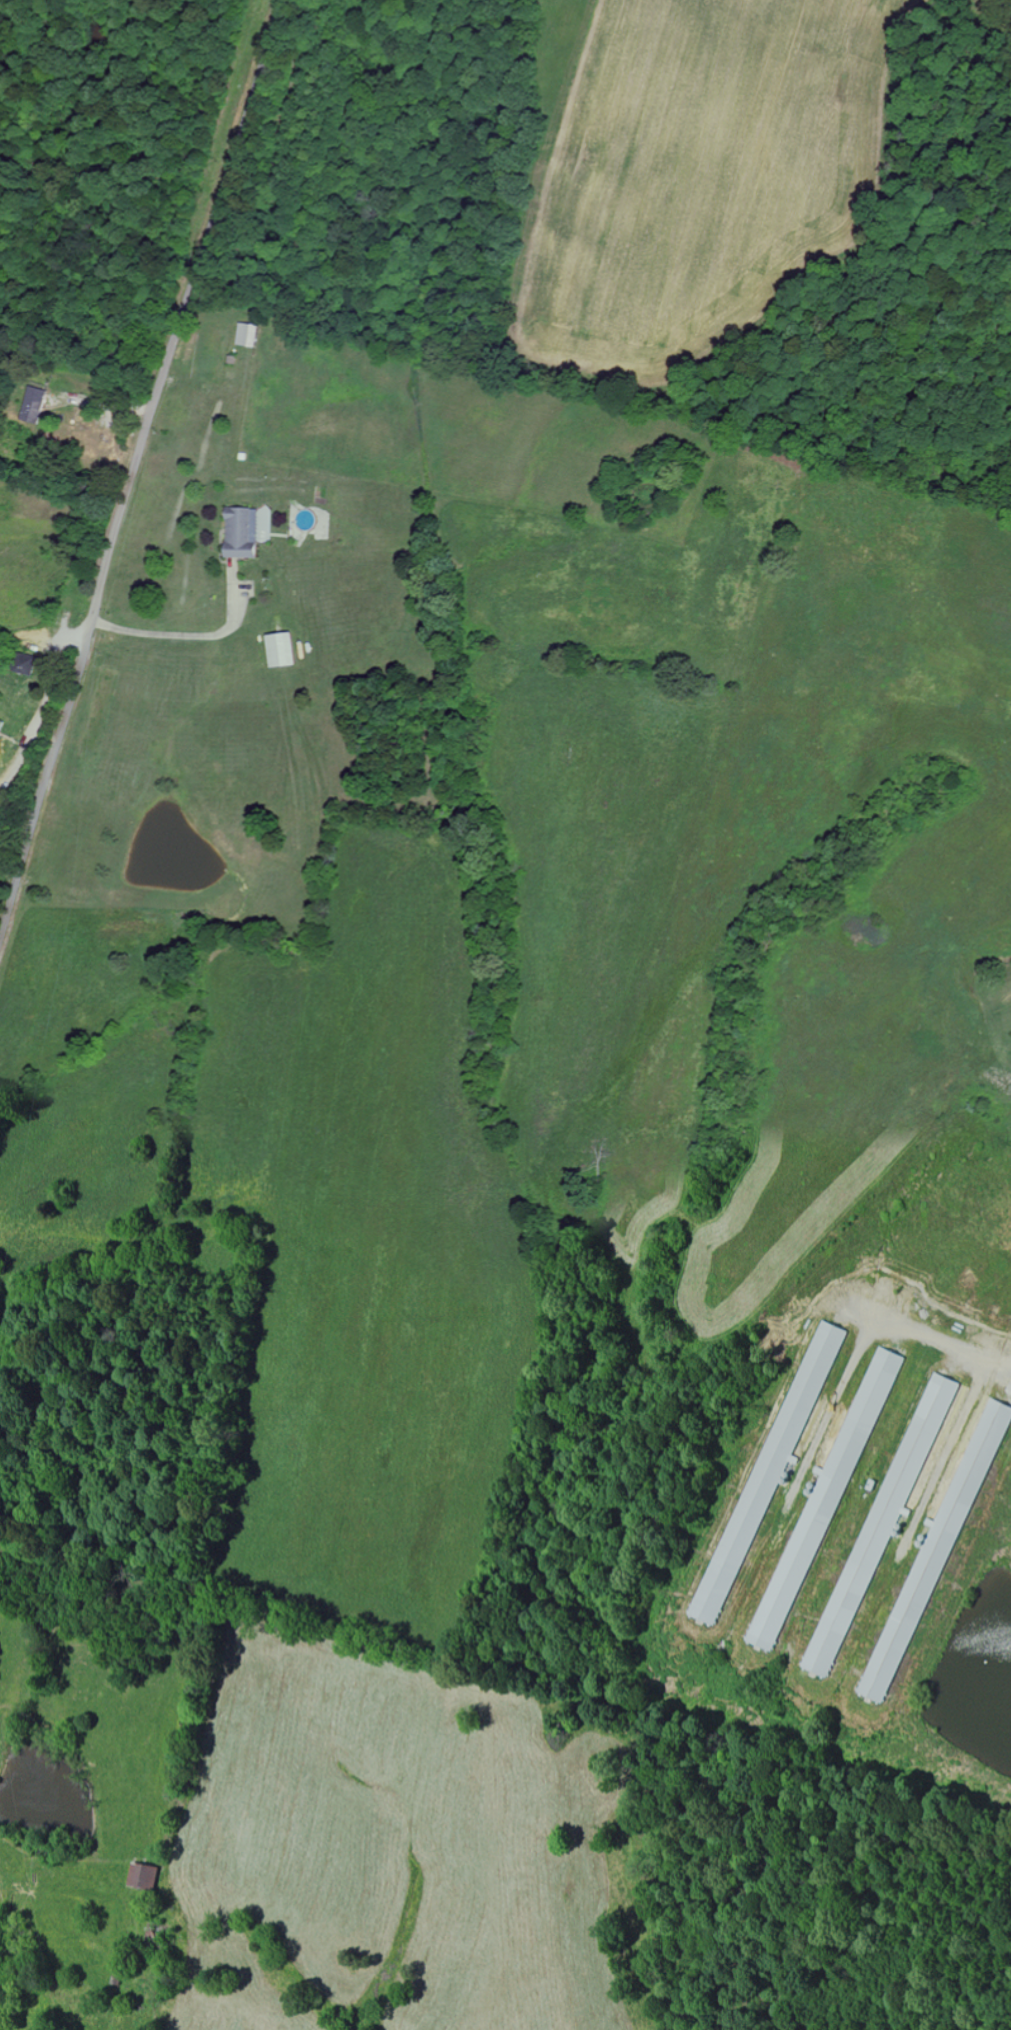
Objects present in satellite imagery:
building: (244, 335)
building: (32, 405)
road: (135, 468)
building: (239, 533)
road: (196, 639)
building: (276, 650)
building: (21, 664)
building: (0, 723)
building: (774, 1458)
building: (886, 1510)
building: (142, 1877)
road: (146, 2027)

